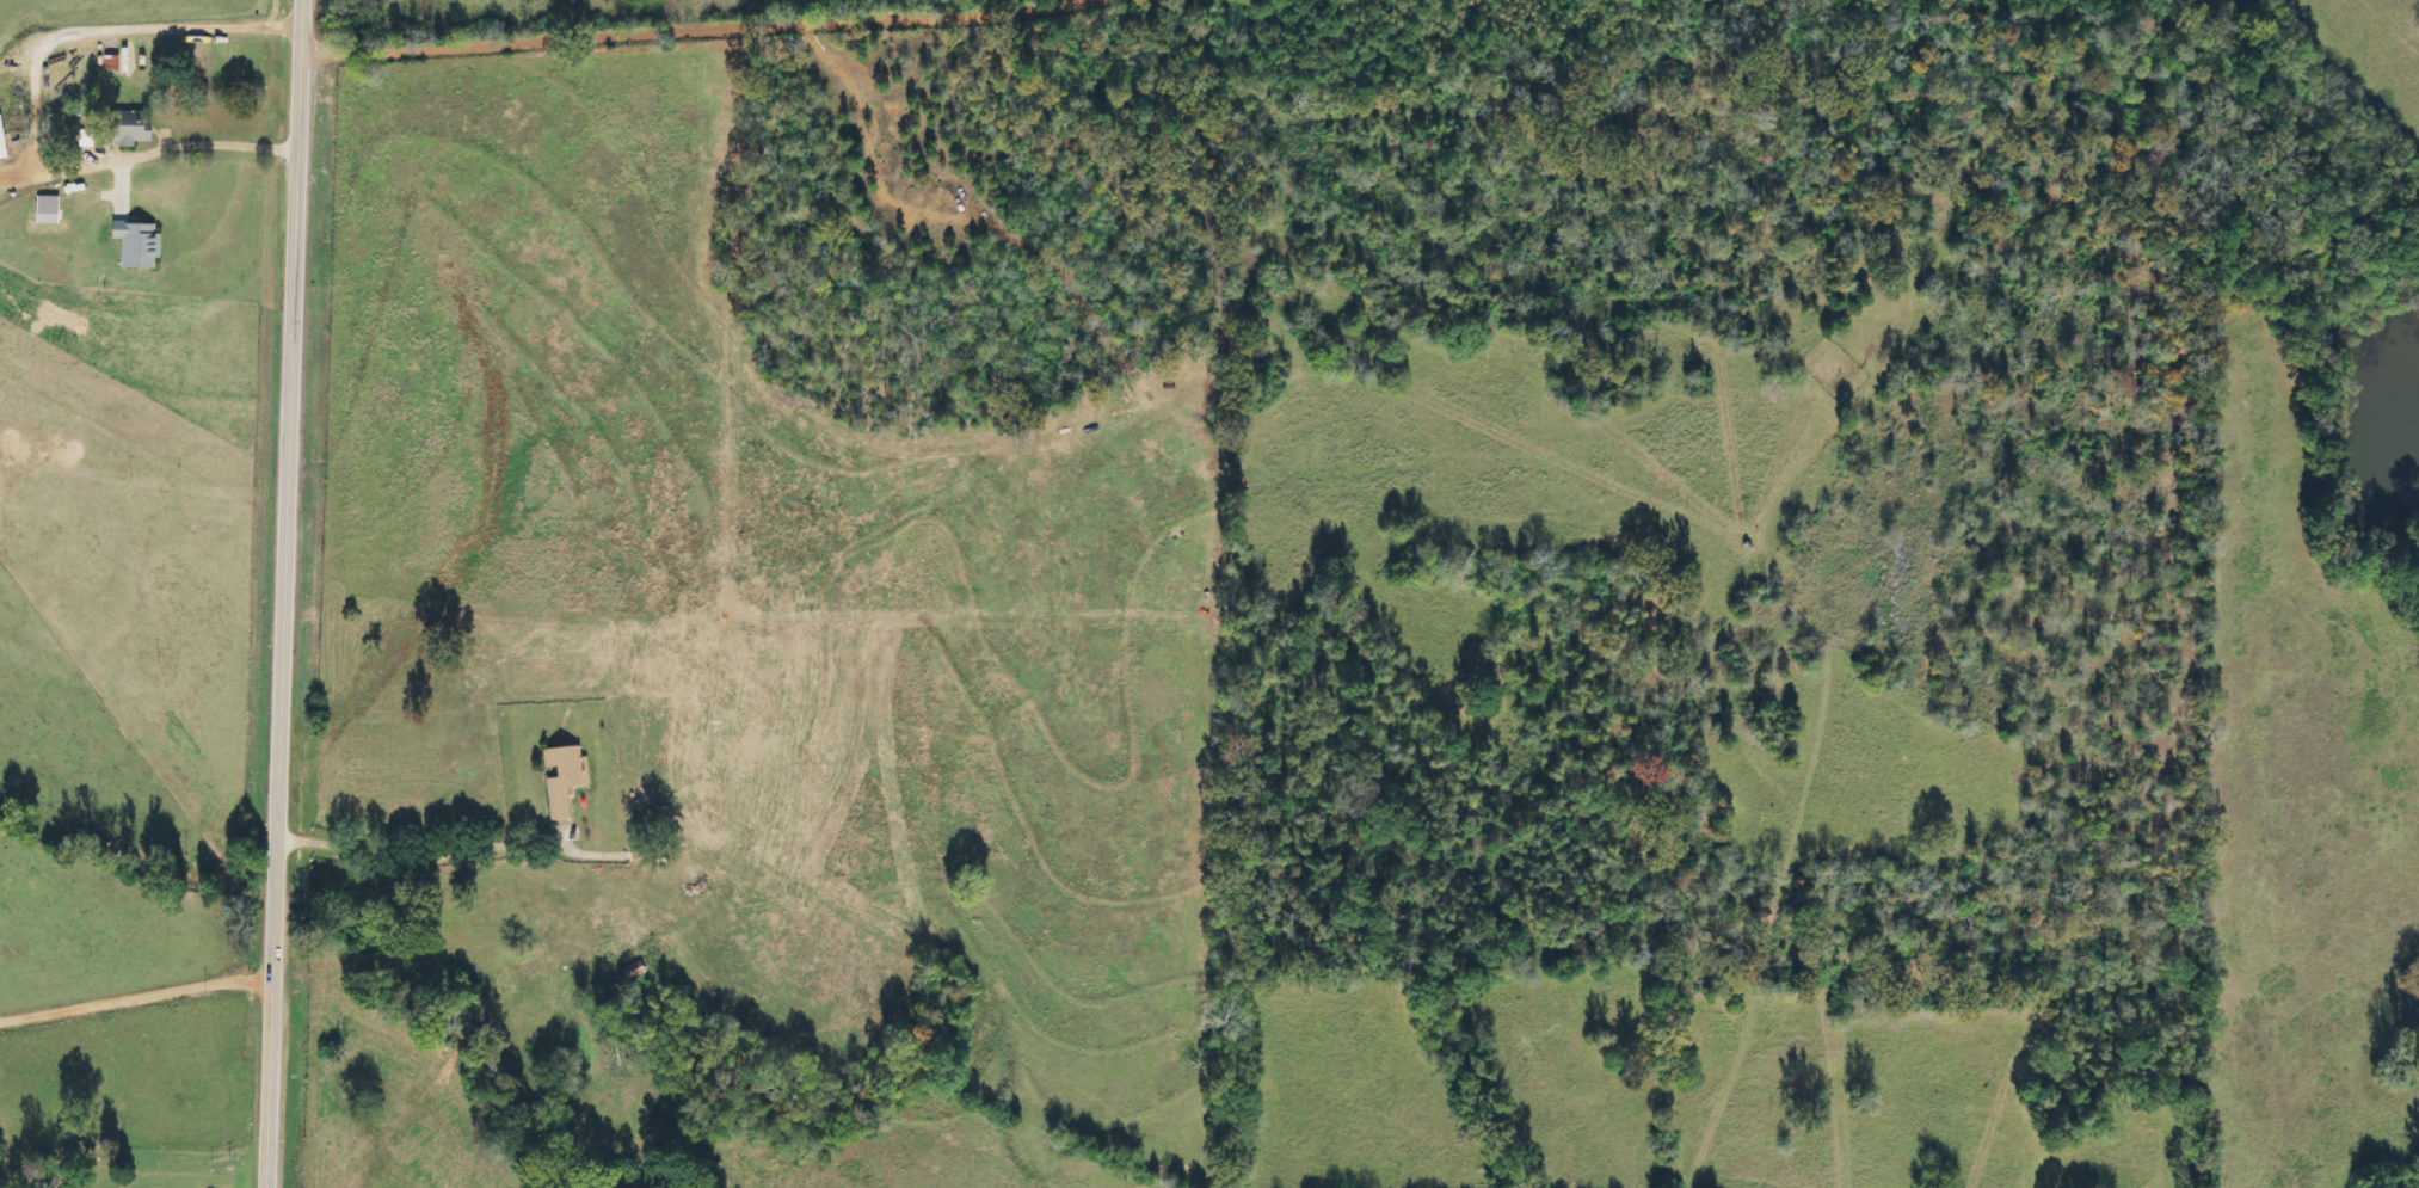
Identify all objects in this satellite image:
road: (701, 30)
road: (38, 119)
building: (128, 130)
building: (90, 137)
building: (4, 140)
building: (141, 244)
road: (283, 593)
building: (566, 780)
road: (417, 844)
building: (635, 971)

